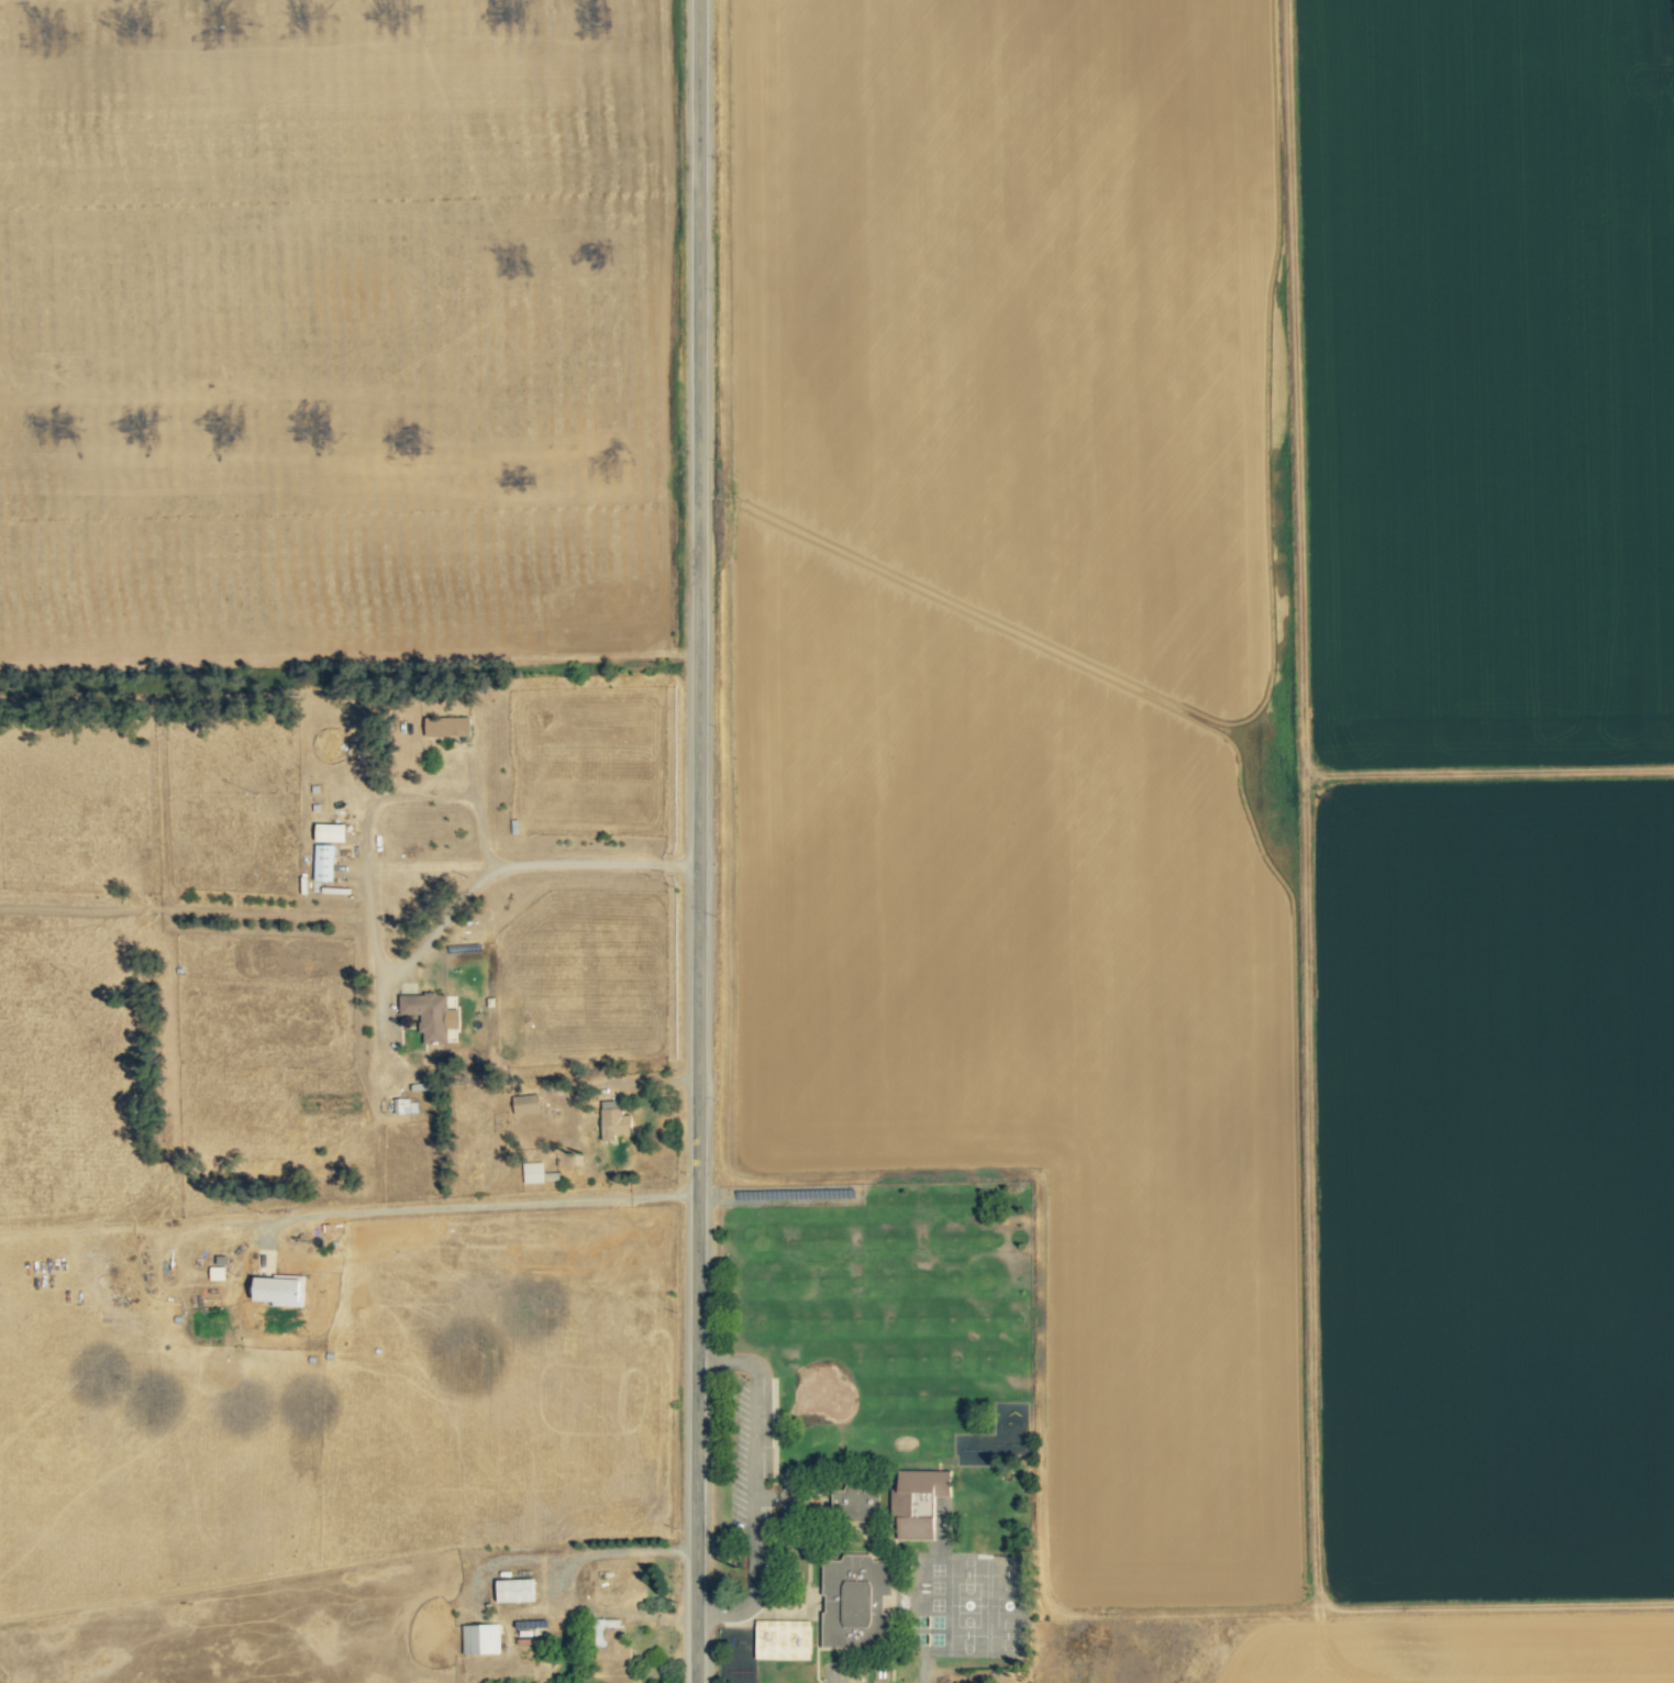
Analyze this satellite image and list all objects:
building: (446, 727)
road: (393, 797)
building: (329, 832)
road: (690, 841)
building: (322, 863)
building: (430, 1015)
road: (628, 1082)
building: (524, 1104)
building: (400, 1106)
building: (613, 1121)
building: (532, 1173)
road: (476, 1210)
building: (215, 1273)
building: (278, 1291)
road: (755, 1454)
building: (918, 1493)
building: (857, 1505)
road: (612, 1549)
building: (514, 1590)
building: (853, 1599)
road: (716, 1613)
building: (479, 1638)
building: (781, 1639)
building: (610, 1640)

